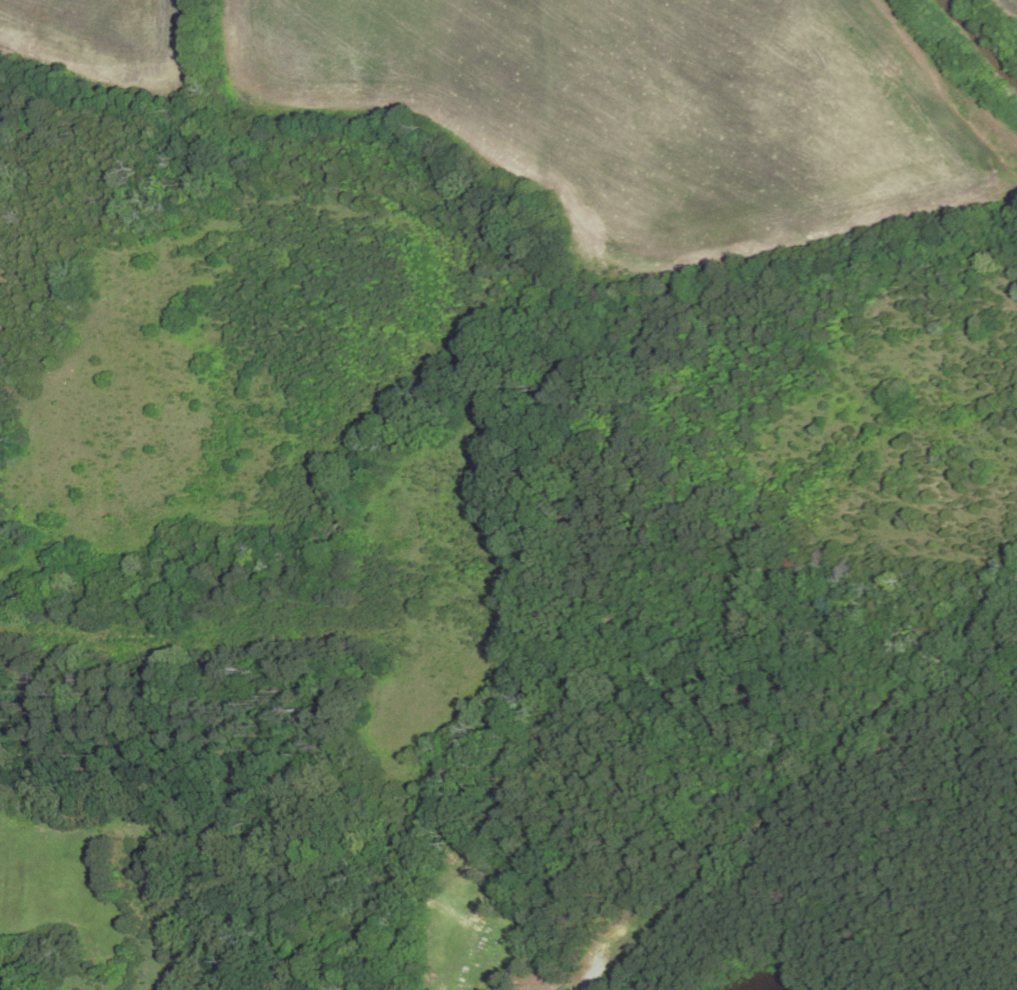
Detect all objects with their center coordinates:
road: (613, 981)

